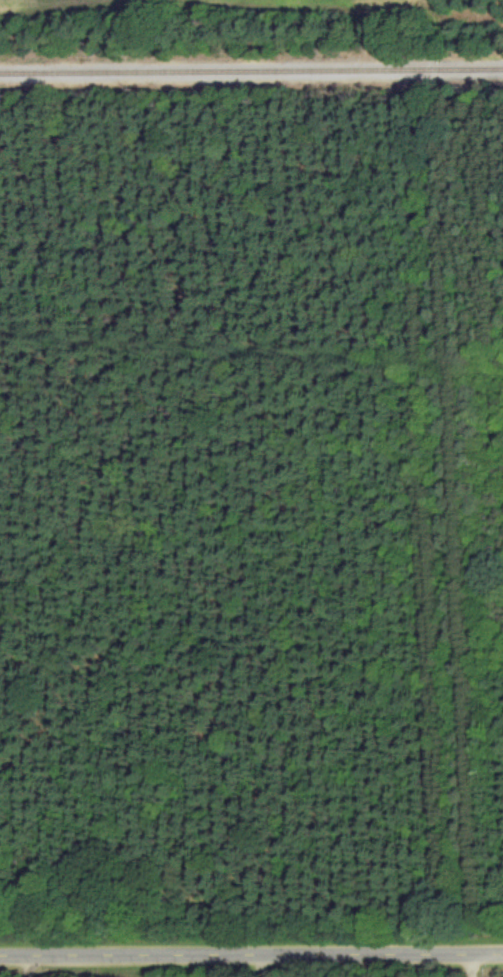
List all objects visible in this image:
railway: (251, 69)
road: (251, 953)
road: (18, 965)
road: (253, 965)
road: (467, 965)

